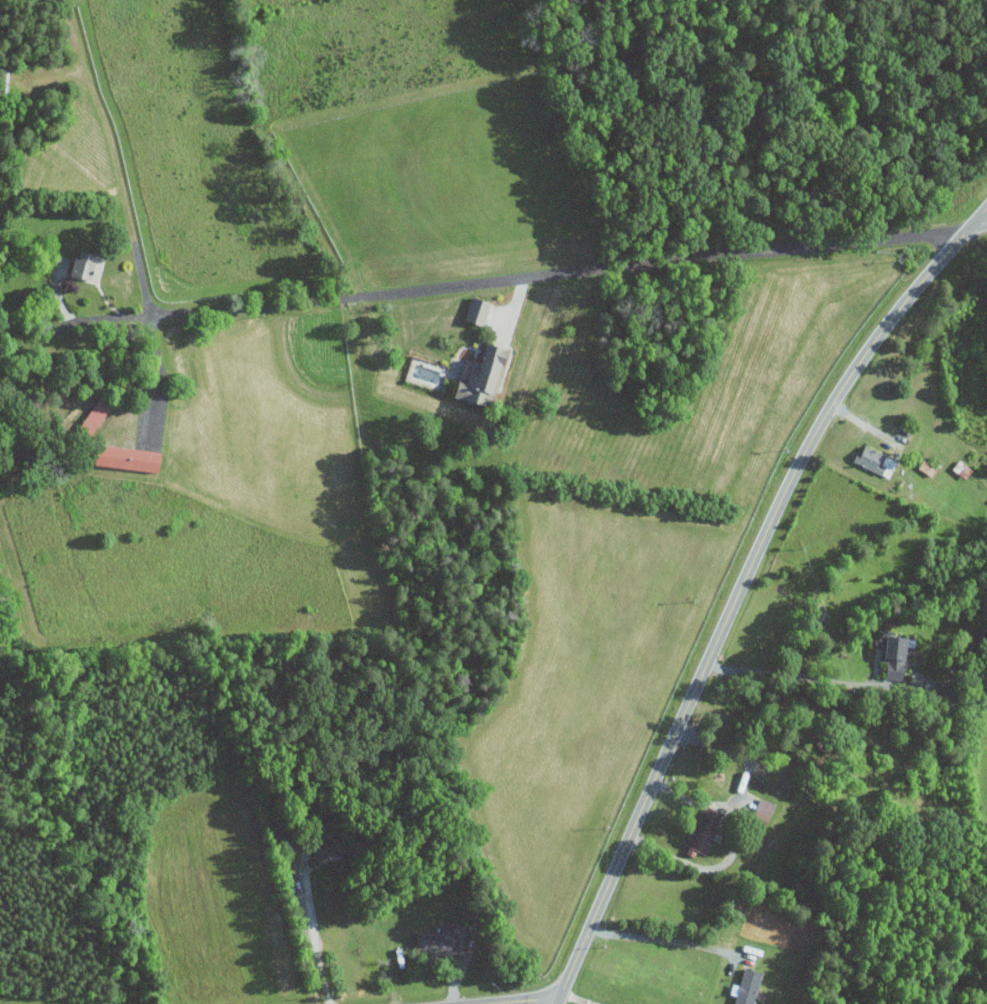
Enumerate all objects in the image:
building: (86, 265)
road: (567, 271)
building: (479, 311)
road: (77, 323)
building: (485, 378)
road: (162, 381)
building: (98, 415)
building: (132, 459)
building: (873, 460)
building: (963, 470)
road: (742, 588)
building: (896, 657)
road: (799, 676)
road: (739, 755)
building: (766, 809)
building: (706, 832)
road: (734, 849)
road: (312, 928)
road: (661, 939)
building: (441, 942)
building: (750, 987)
road: (537, 1002)

